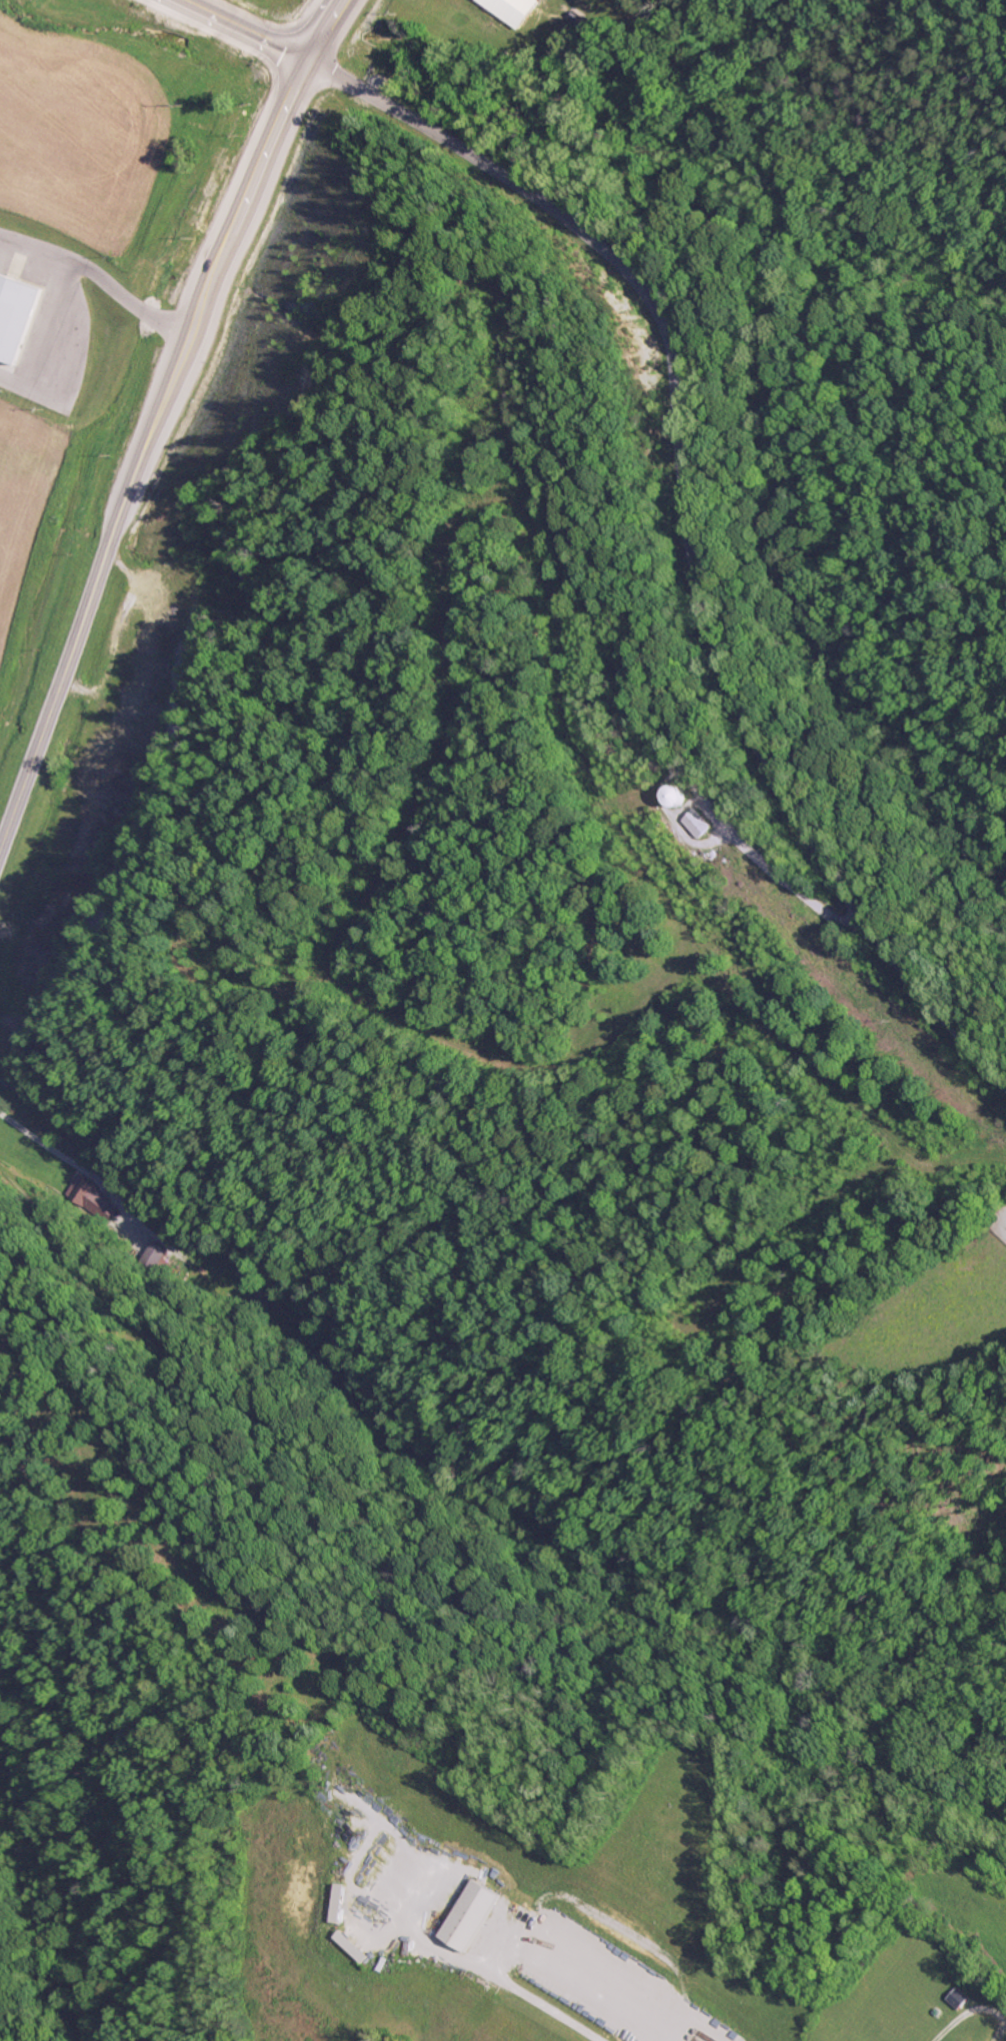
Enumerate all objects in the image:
building: (511, 10)
road: (248, 30)
road: (329, 30)
building: (14, 316)
road: (143, 448)
road: (693, 522)
building: (677, 798)
building: (699, 824)
building: (91, 1199)
building: (155, 1253)
building: (468, 1916)
building: (352, 1947)

